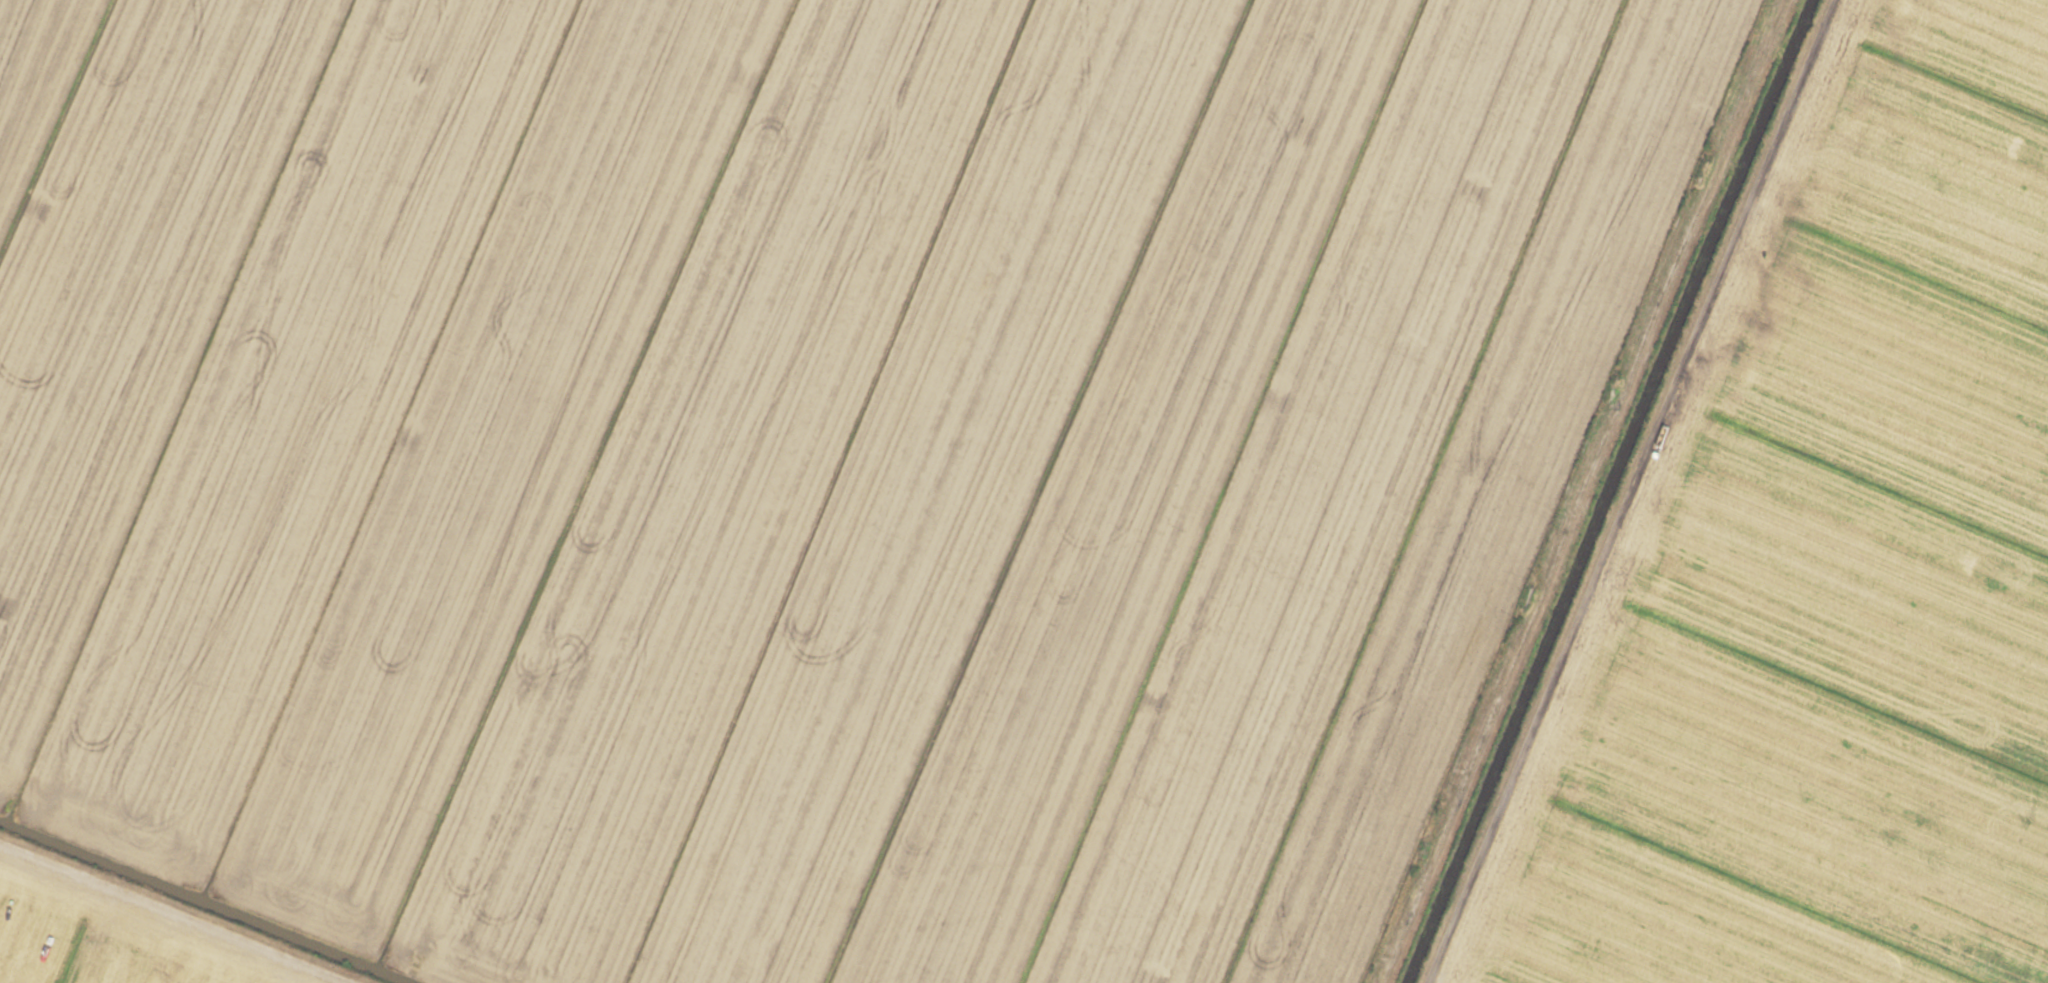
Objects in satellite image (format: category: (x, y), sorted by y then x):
crop: (1024, 491)
road: (1569, 491)
road: (153, 920)

